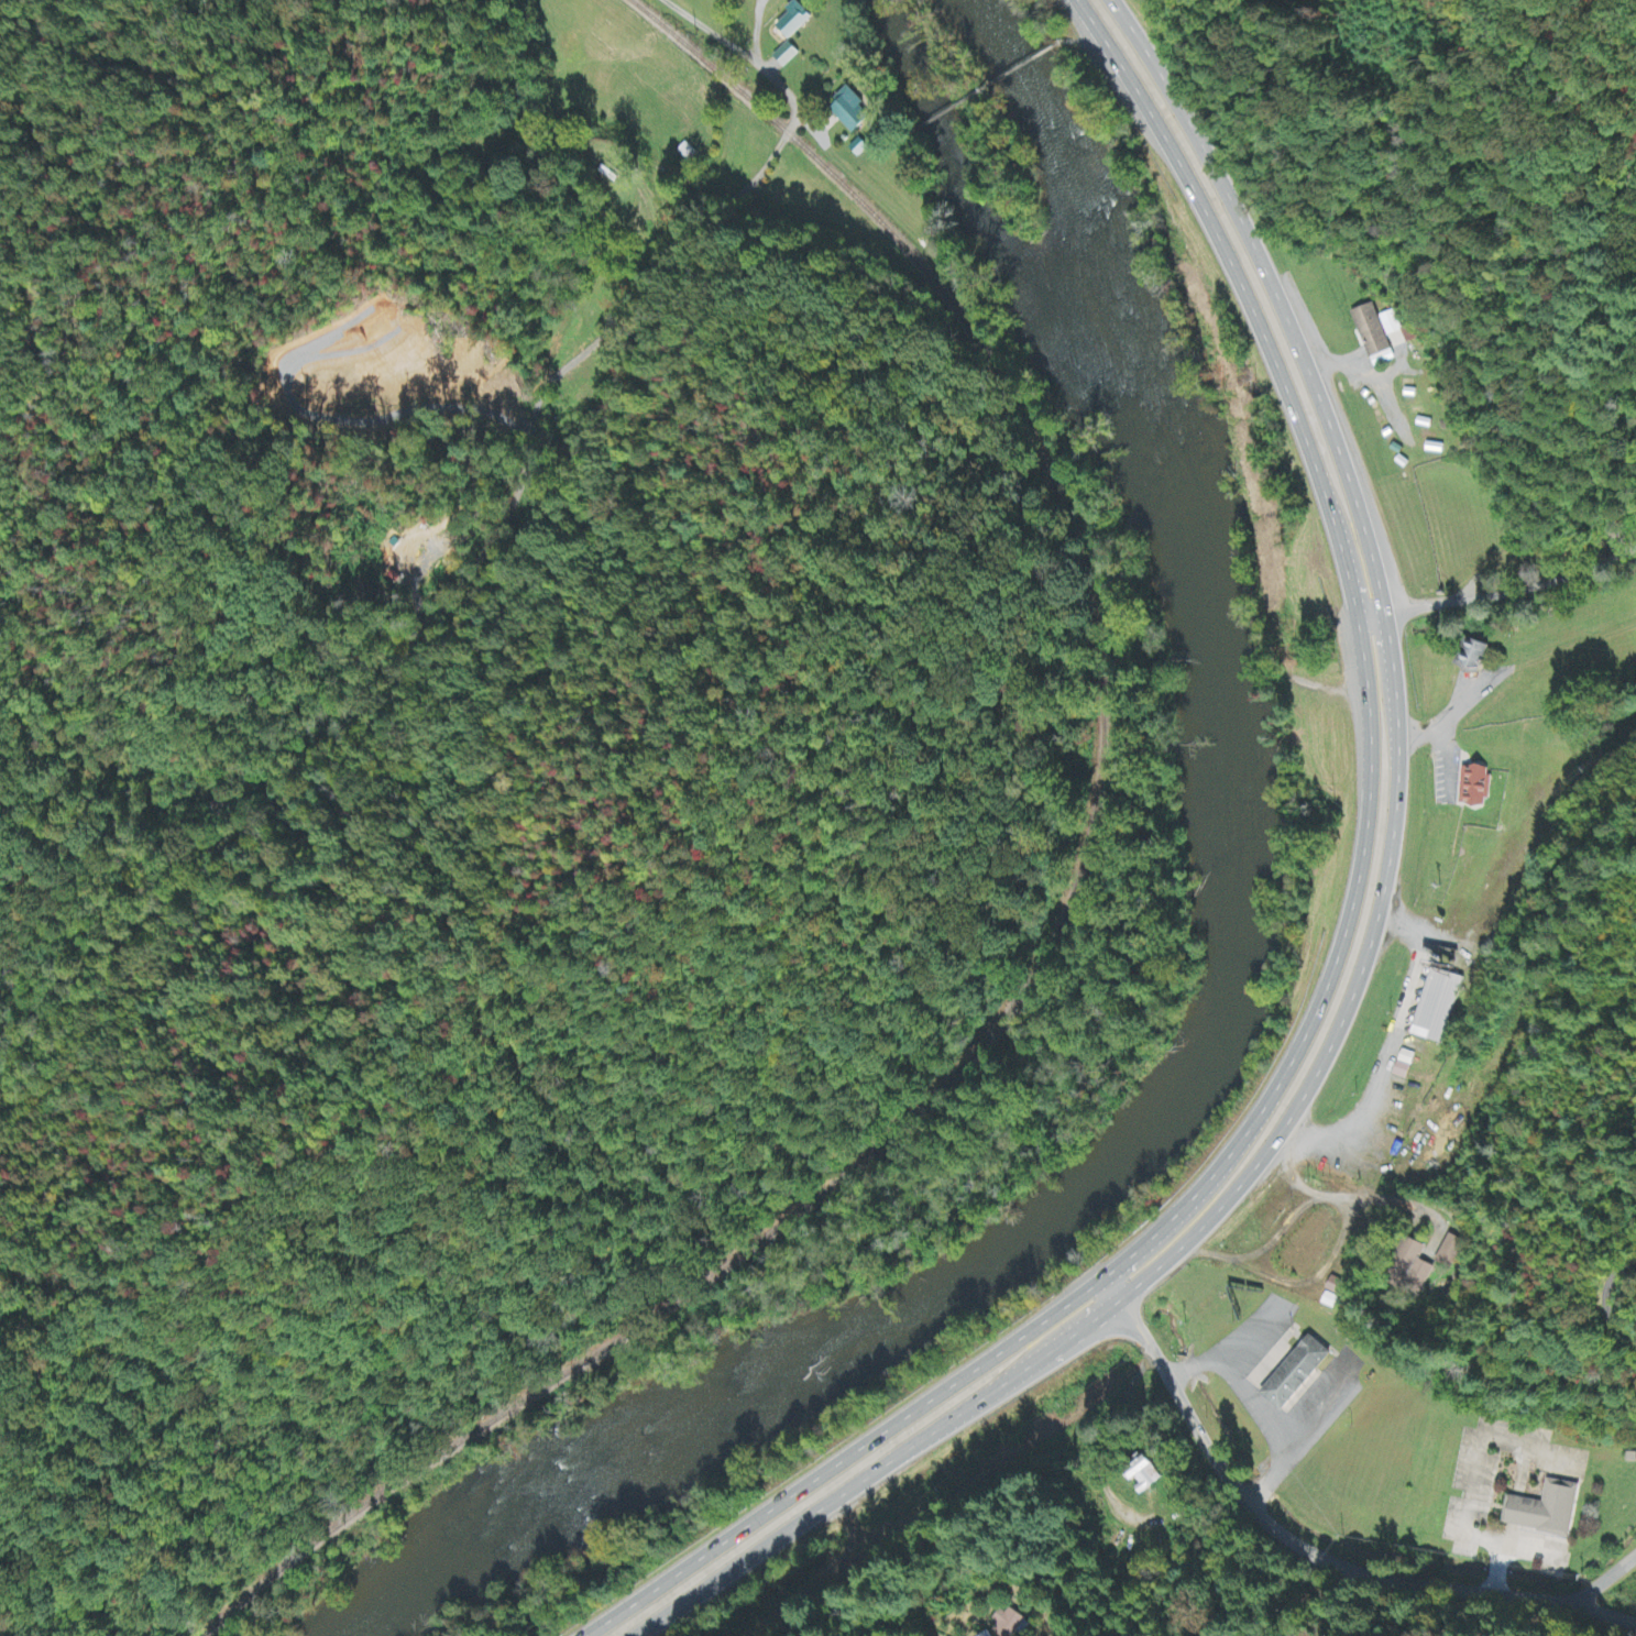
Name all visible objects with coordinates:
building: (797, 21)
road: (1085, 35)
building: (788, 55)
road: (993, 83)
building: (852, 112)
road: (852, 165)
river: (971, 183)
building: (1380, 334)
river: (1178, 490)
road: (479, 559)
road: (1495, 574)
building: (1474, 655)
building: (1476, 786)
river: (1243, 924)
railway: (1045, 935)
road: (1363, 955)
road: (1335, 959)
building: (1437, 1006)
building: (1405, 1065)
road: (1463, 1144)
building: (1449, 1251)
building: (1413, 1270)
building: (1337, 1288)
building: (1298, 1374)
river: (726, 1396)
road: (1520, 1465)
building: (1144, 1476)
road: (1473, 1482)
building: (1545, 1505)
road: (1513, 1506)
road: (1507, 1531)
road: (1303, 1549)
road: (1493, 1569)
road: (813, 1578)
road: (1610, 1580)
road: (1281, 1607)
road: (876, 1619)
building: (1008, 1624)

